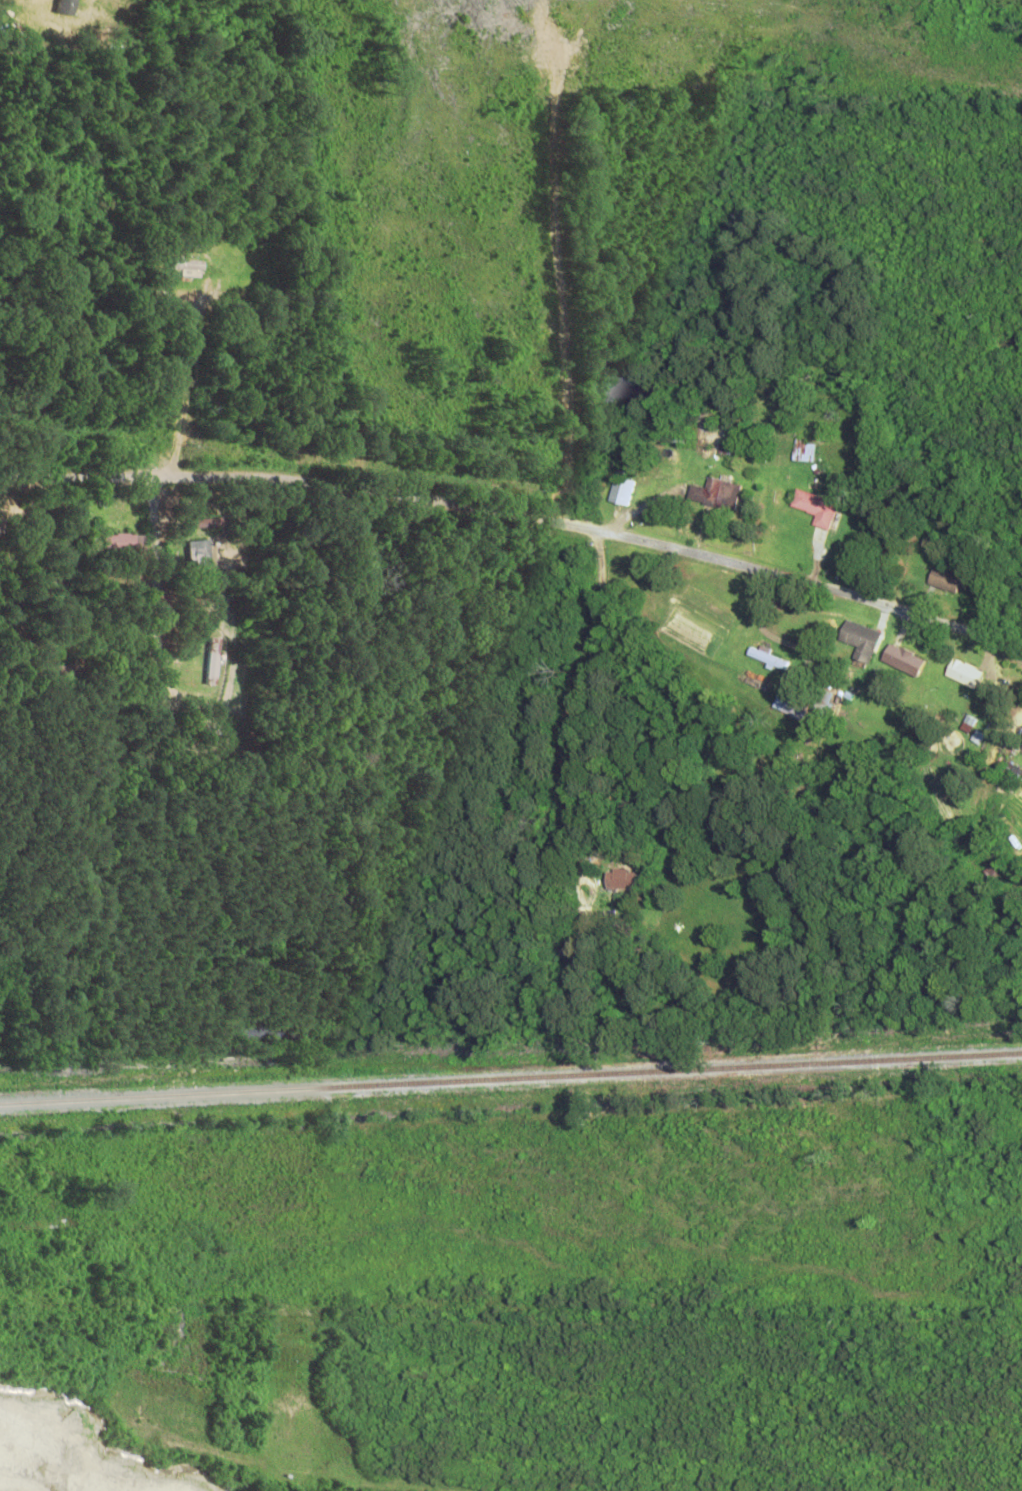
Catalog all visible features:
building: (186, 266)
building: (727, 450)
building: (804, 452)
building: (621, 490)
building: (717, 494)
building: (816, 508)
road: (520, 516)
building: (203, 522)
building: (122, 543)
building: (197, 552)
road: (65, 574)
building: (945, 581)
road: (756, 618)
building: (859, 640)
building: (766, 658)
building: (902, 660)
building: (211, 661)
building: (66, 672)
building: (963, 673)
building: (822, 703)
building: (794, 706)
road: (584, 709)
building: (987, 877)
building: (617, 879)
railway: (510, 1078)

